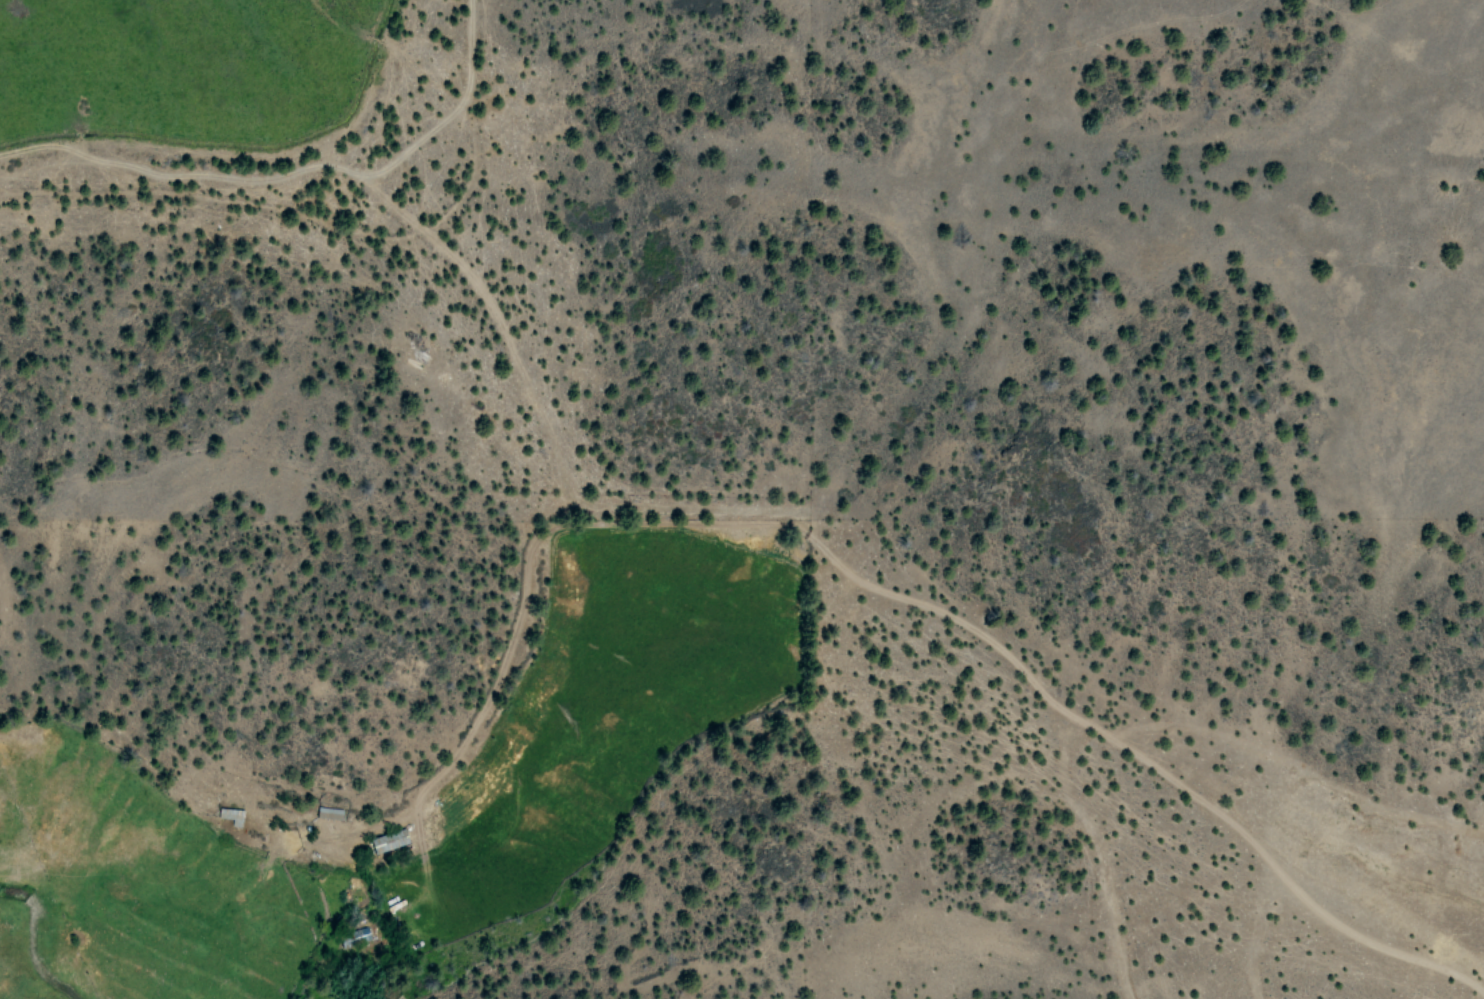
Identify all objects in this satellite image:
road: (905, 595)
building: (329, 814)
building: (389, 841)
building: (357, 936)

